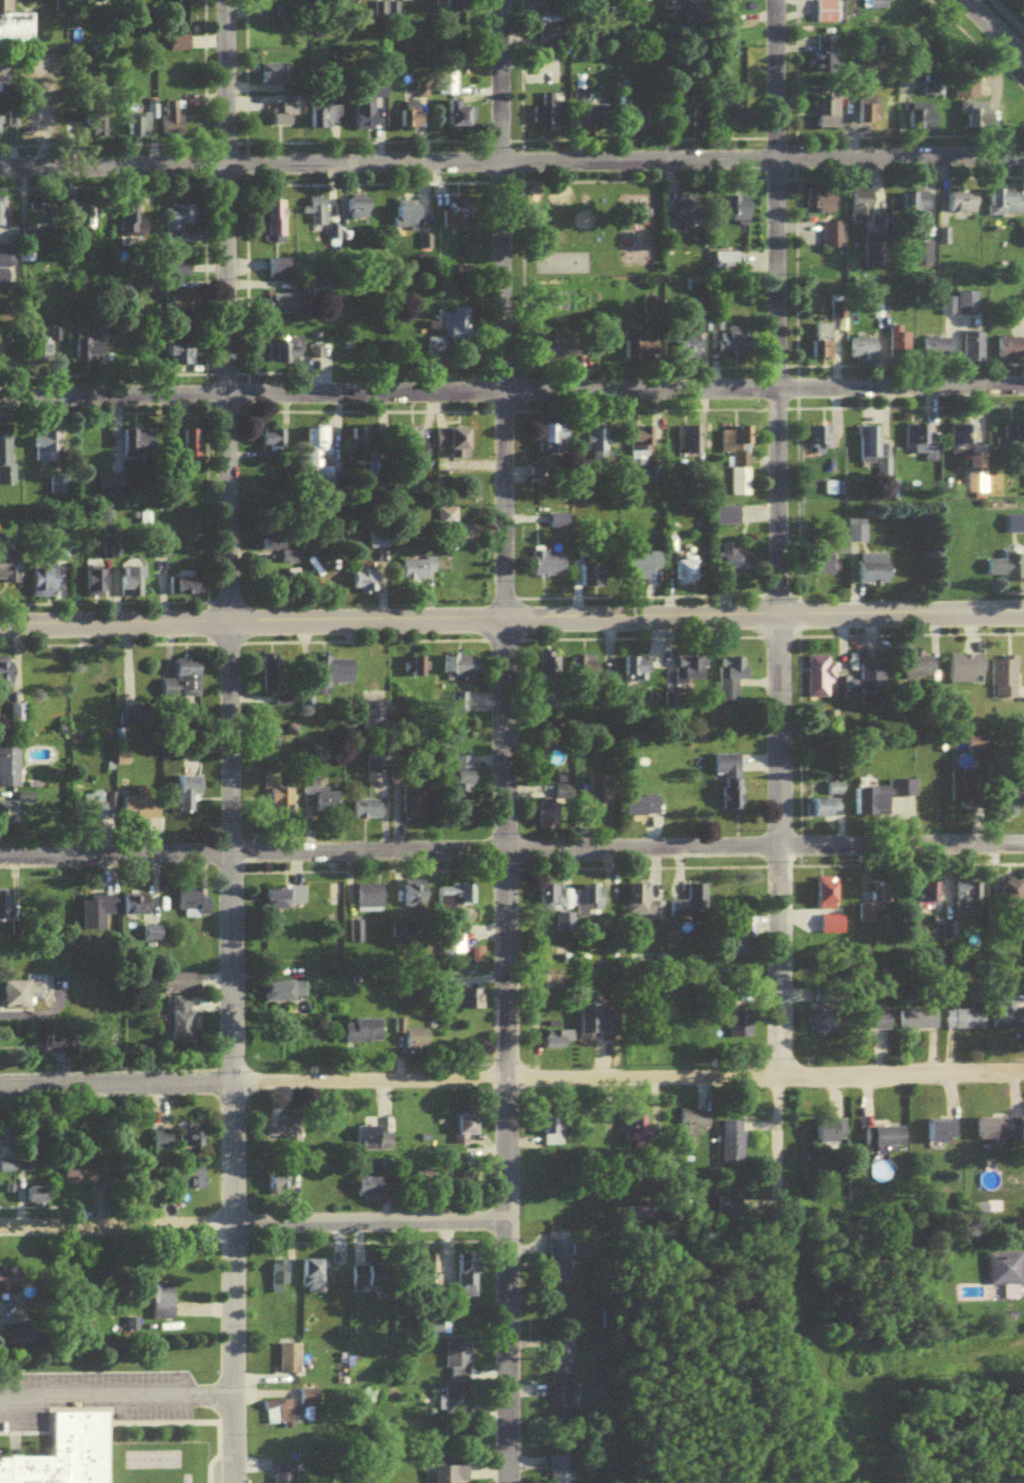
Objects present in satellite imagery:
building: (327, 1)
building: (551, 2)
building: (459, 5)
building: (877, 6)
road: (1010, 12)
building: (15, 27)
road: (990, 31)
building: (554, 37)
building: (827, 58)
building: (4, 76)
building: (274, 77)
building: (450, 87)
building: (930, 92)
building: (967, 93)
building: (621, 94)
building: (579, 102)
building: (372, 110)
building: (555, 112)
building: (829, 115)
building: (463, 116)
building: (284, 118)
building: (930, 119)
building: (327, 120)
building: (601, 120)
building: (692, 120)
building: (413, 121)
building: (973, 122)
building: (97, 123)
building: (174, 123)
building: (1, 128)
building: (142, 128)
road: (512, 162)
building: (917, 204)
building: (963, 205)
building: (824, 206)
building: (1006, 206)
building: (863, 208)
building: (360, 211)
building: (3, 214)
building: (319, 214)
building: (738, 214)
building: (690, 216)
building: (40, 219)
building: (409, 221)
building: (180, 223)
building: (279, 223)
building: (92, 225)
building: (140, 231)
park: (591, 233)
building: (831, 239)
building: (425, 245)
building: (878, 256)
building: (923, 259)
building: (561, 267)
building: (6, 270)
building: (279, 272)
building: (179, 273)
building: (968, 307)
building: (183, 314)
building: (451, 335)
building: (642, 342)
building: (49, 343)
building: (735, 344)
building: (825, 346)
building: (901, 347)
building: (570, 348)
building: (690, 351)
building: (973, 351)
building: (91, 353)
building: (865, 353)
building: (942, 353)
building: (1010, 353)
building: (289, 356)
building: (1, 357)
building: (183, 359)
road: (512, 392)
building: (1013, 440)
building: (360, 442)
building: (556, 443)
building: (962, 445)
building: (922, 446)
building: (274, 447)
building: (458, 447)
building: (597, 448)
building: (5, 449)
building: (145, 451)
building: (193, 451)
building: (46, 452)
building: (640, 452)
building: (874, 455)
building: (322, 458)
building: (742, 473)
building: (7, 481)
building: (977, 487)
building: (59, 490)
building: (113, 490)
building: (834, 493)
building: (727, 519)
building: (1015, 528)
building: (281, 549)
building: (837, 554)
building: (547, 567)
building: (689, 567)
building: (647, 568)
building: (733, 569)
building: (1007, 569)
building: (875, 573)
building: (419, 574)
building: (10, 576)
building: (592, 578)
building: (45, 583)
building: (368, 585)
building: (97, 586)
building: (133, 586)
building: (187, 589)
road: (780, 615)
road: (512, 622)
building: (591, 667)
building: (922, 671)
building: (551, 672)
building: (689, 672)
building: (967, 672)
building: (636, 675)
building: (340, 676)
building: (7, 677)
building: (103, 678)
building: (273, 679)
building: (1005, 680)
building: (731, 682)
building: (184, 684)
building: (842, 692)
building: (19, 716)
building: (374, 716)
road: (226, 741)
road: (503, 741)
building: (978, 746)
building: (9, 769)
building: (727, 770)
building: (463, 772)
building: (962, 792)
building: (834, 793)
building: (601, 796)
building: (188, 797)
building: (321, 800)
building: (732, 801)
building: (881, 801)
building: (281, 803)
building: (417, 807)
building: (551, 809)
building: (643, 810)
building: (141, 812)
building: (825, 812)
building: (367, 813)
building: (9, 817)
road: (511, 850)
building: (828, 893)
building: (1013, 900)
building: (456, 901)
building: (551, 901)
building: (285, 902)
building: (926, 902)
building: (590, 903)
building: (966, 903)
building: (369, 905)
building: (193, 907)
building: (642, 907)
building: (137, 910)
building: (99, 916)
building: (355, 936)
building: (152, 938)
building: (741, 944)
building: (453, 951)
building: (182, 987)
building: (284, 996)
building: (23, 997)
building: (472, 1004)
building: (1010, 1013)
building: (183, 1024)
building: (595, 1024)
building: (873, 1024)
building: (918, 1024)
building: (965, 1024)
building: (824, 1027)
building: (743, 1029)
building: (363, 1036)
building: (414, 1041)
building: (43, 1046)
building: (556, 1050)
road: (512, 1080)
building: (693, 1126)
building: (467, 1131)
building: (1000, 1132)
building: (553, 1133)
building: (284, 1135)
building: (941, 1135)
building: (831, 1136)
building: (6, 1137)
building: (191, 1140)
building: (732, 1140)
building: (886, 1141)
building: (373, 1143)
building: (162, 1144)
building: (8, 1170)
building: (88, 1179)
building: (189, 1183)
building: (424, 1187)
building: (278, 1188)
building: (369, 1188)
building: (38, 1201)
road: (252, 1224)
building: (559, 1251)
building: (1007, 1271)
building: (314, 1280)
building: (381, 1280)
building: (468, 1280)
building: (279, 1281)
building: (13, 1286)
building: (164, 1308)
building: (560, 1361)
building: (458, 1366)
road: (112, 1391)
parking lot: (94, 1392)
building: (310, 1400)
building: (558, 1406)
building: (456, 1407)
building: (282, 1416)
building: (64, 1449)
building: (559, 1471)
building: (285, 1475)
building: (453, 1476)

